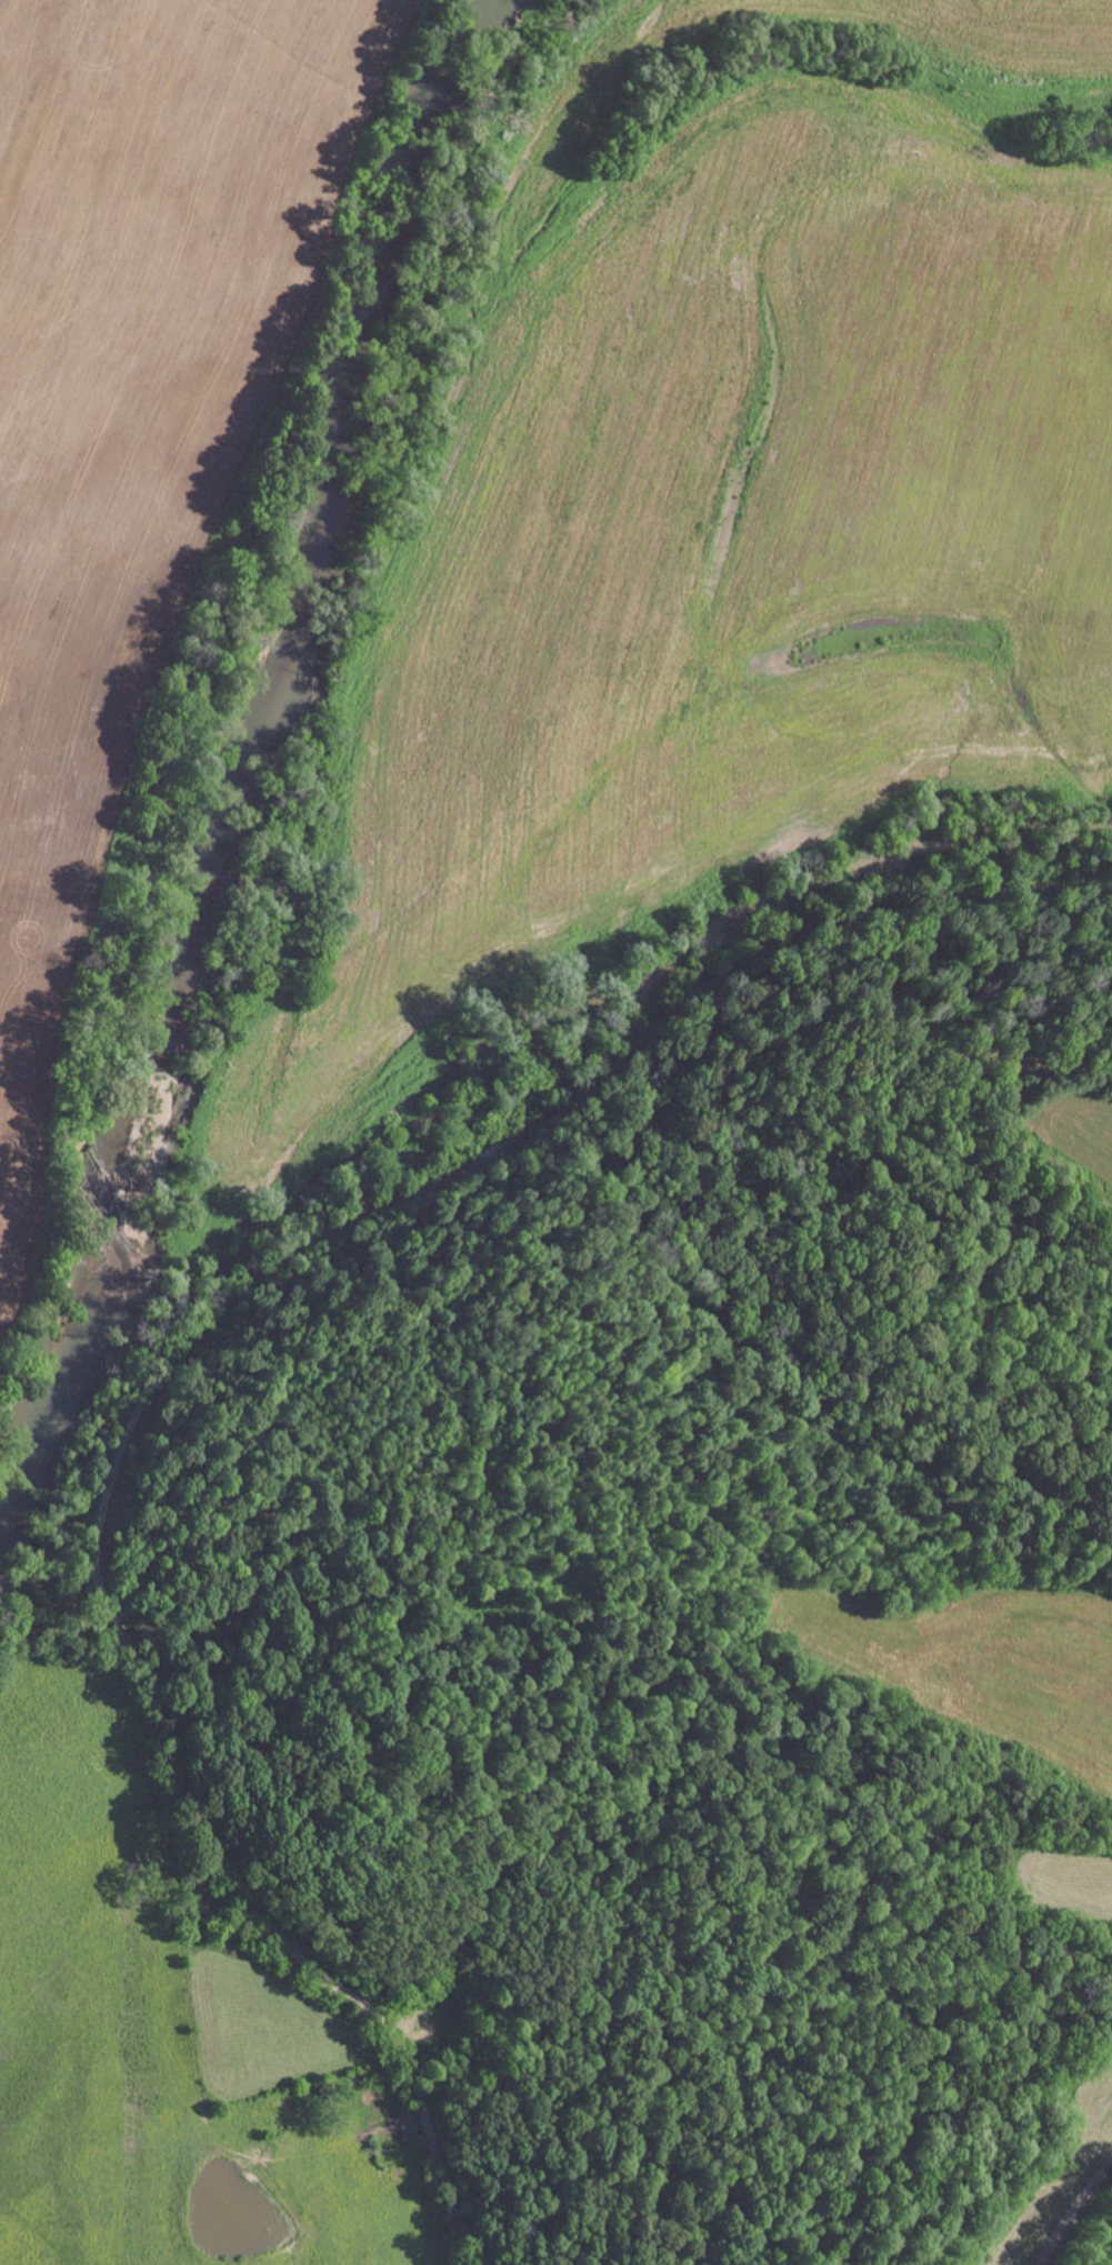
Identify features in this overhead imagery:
river: (244, 750)
road: (1002, 891)
road: (140, 1419)
road: (1042, 1554)
road: (439, 2115)
road: (1073, 2213)

